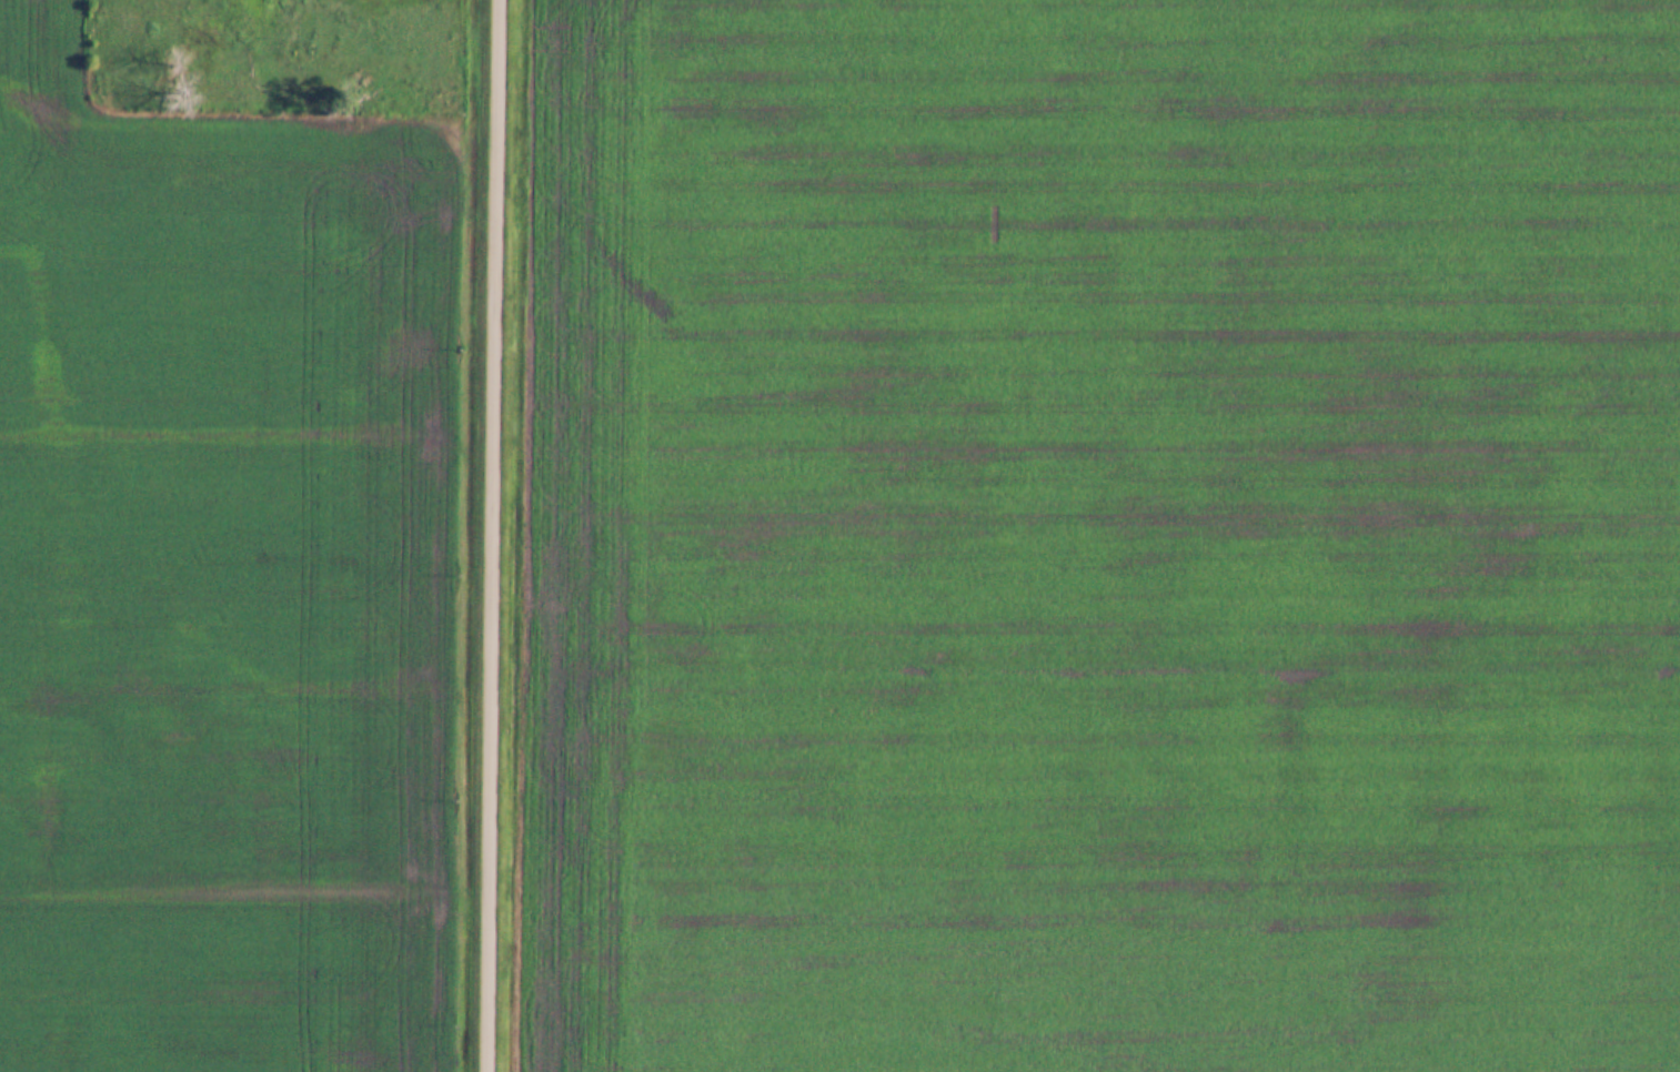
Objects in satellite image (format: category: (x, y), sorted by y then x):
road: (491, 536)

